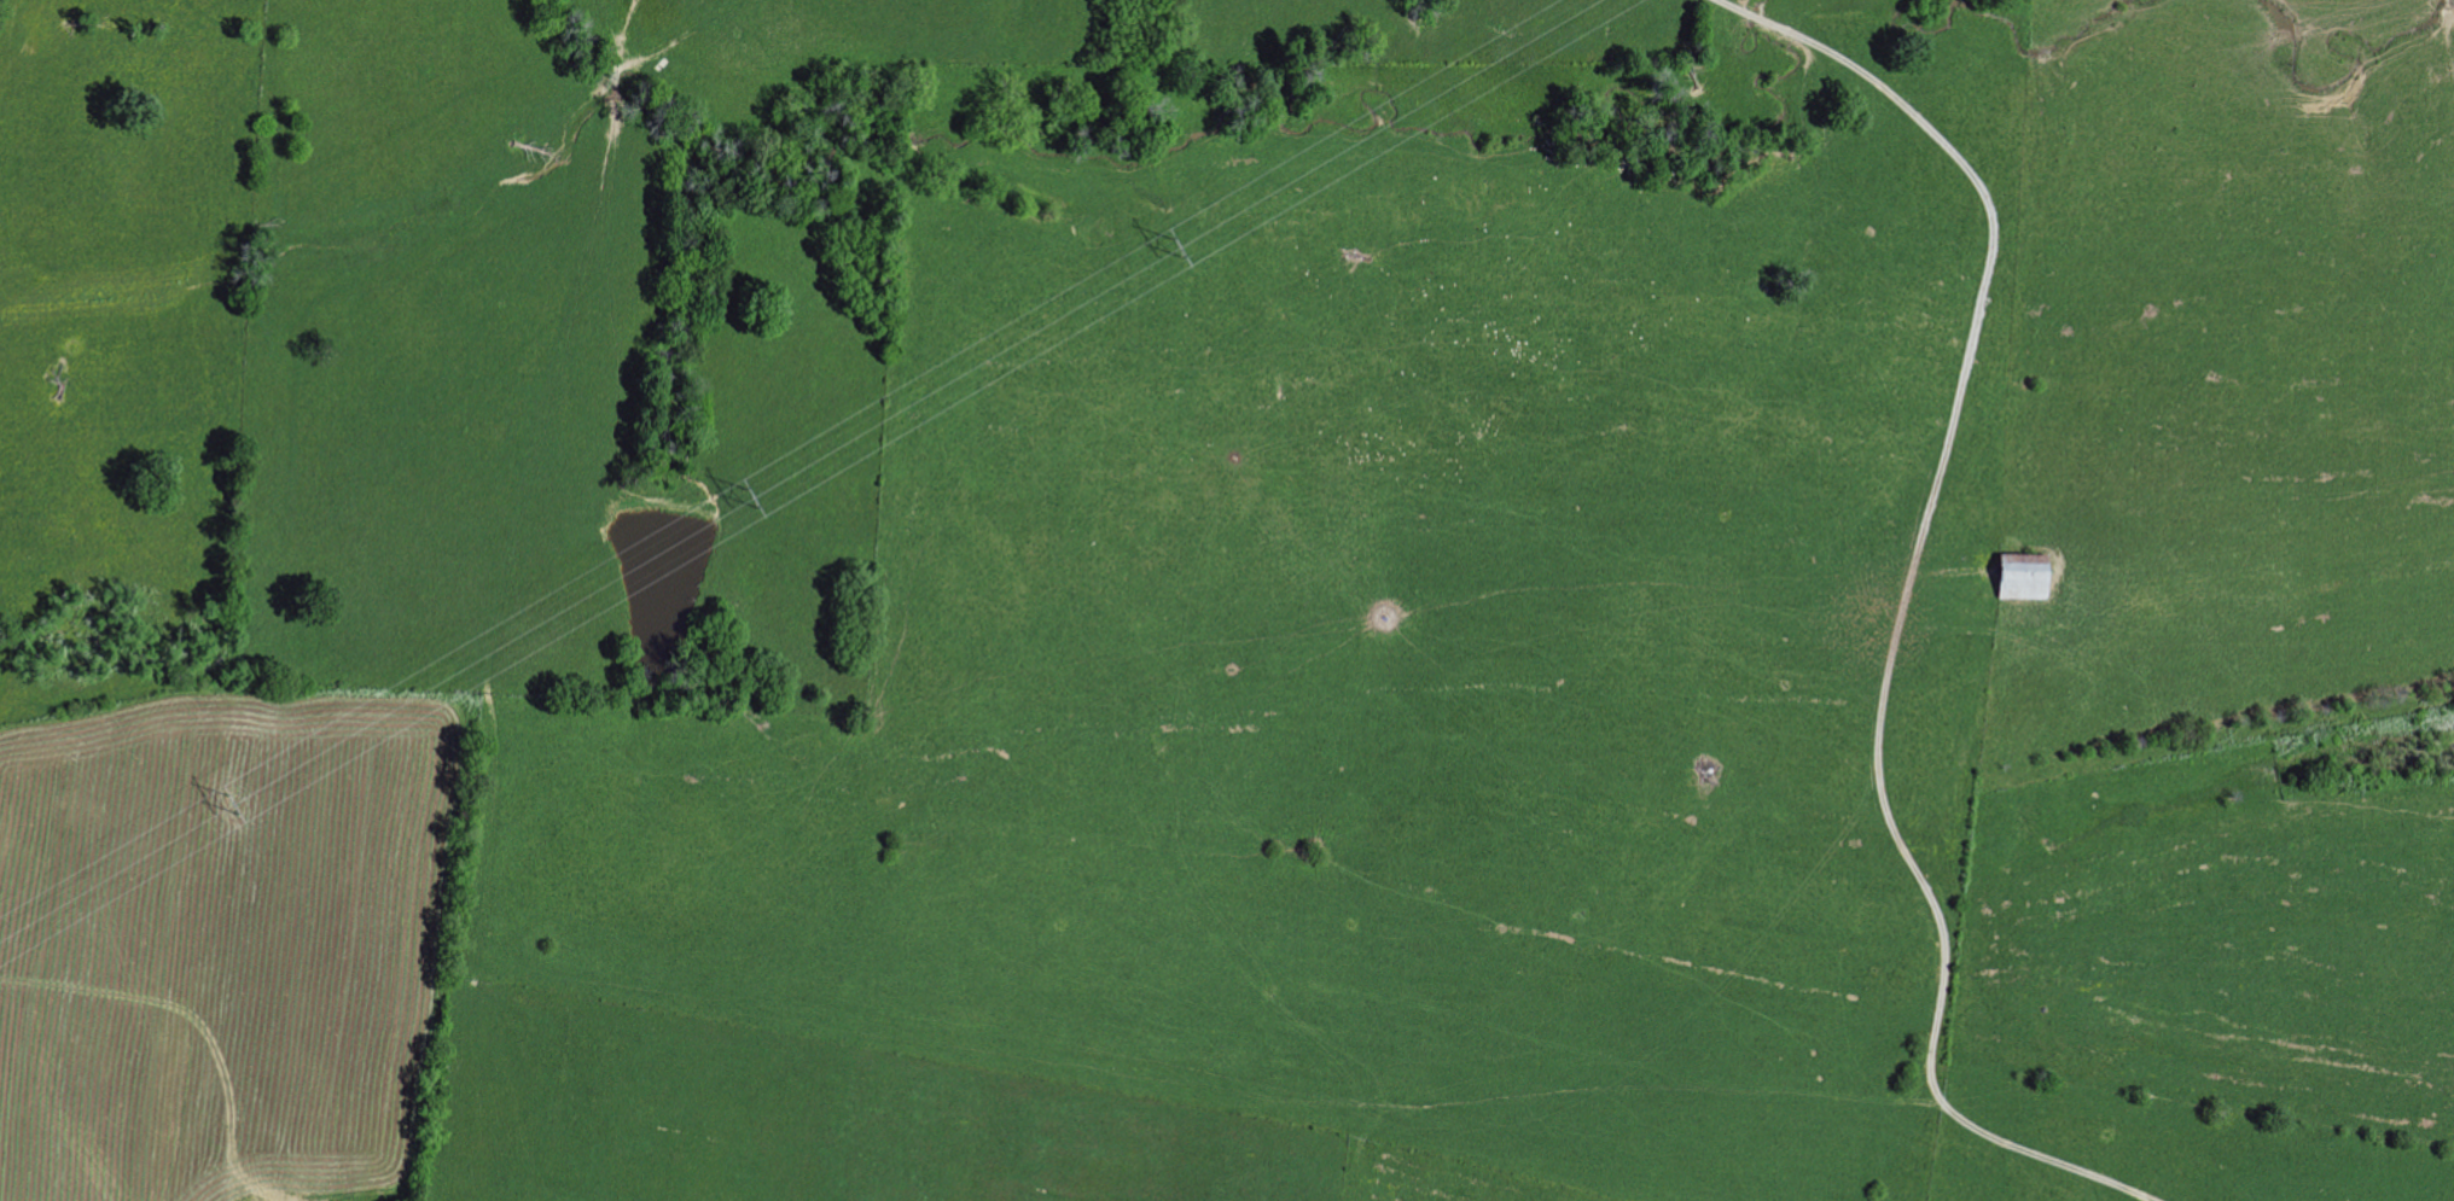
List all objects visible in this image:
power tower: (1175, 245)
power tower: (750, 496)
building: (2016, 576)
power tower: (233, 804)

